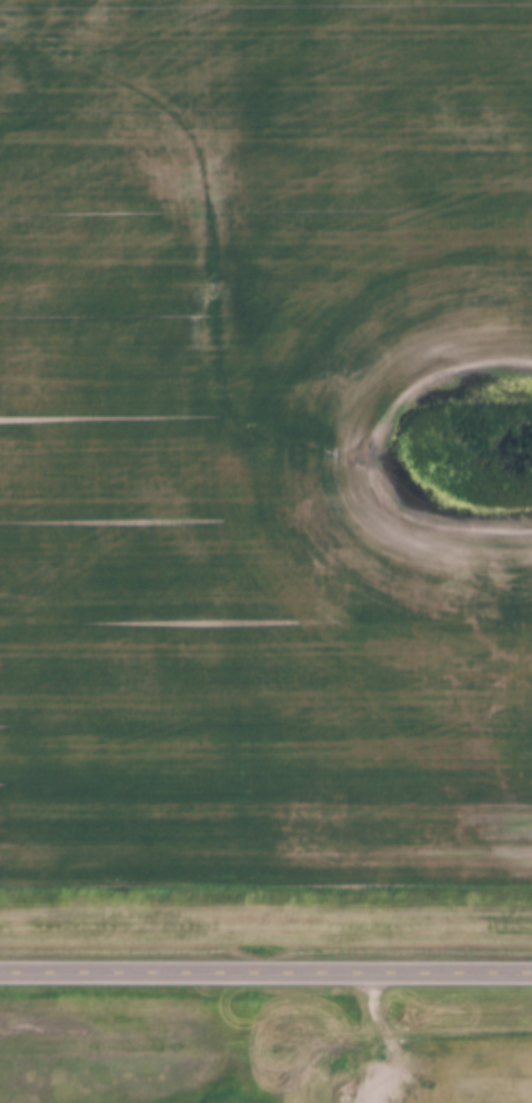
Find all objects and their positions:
road: (265, 967)

